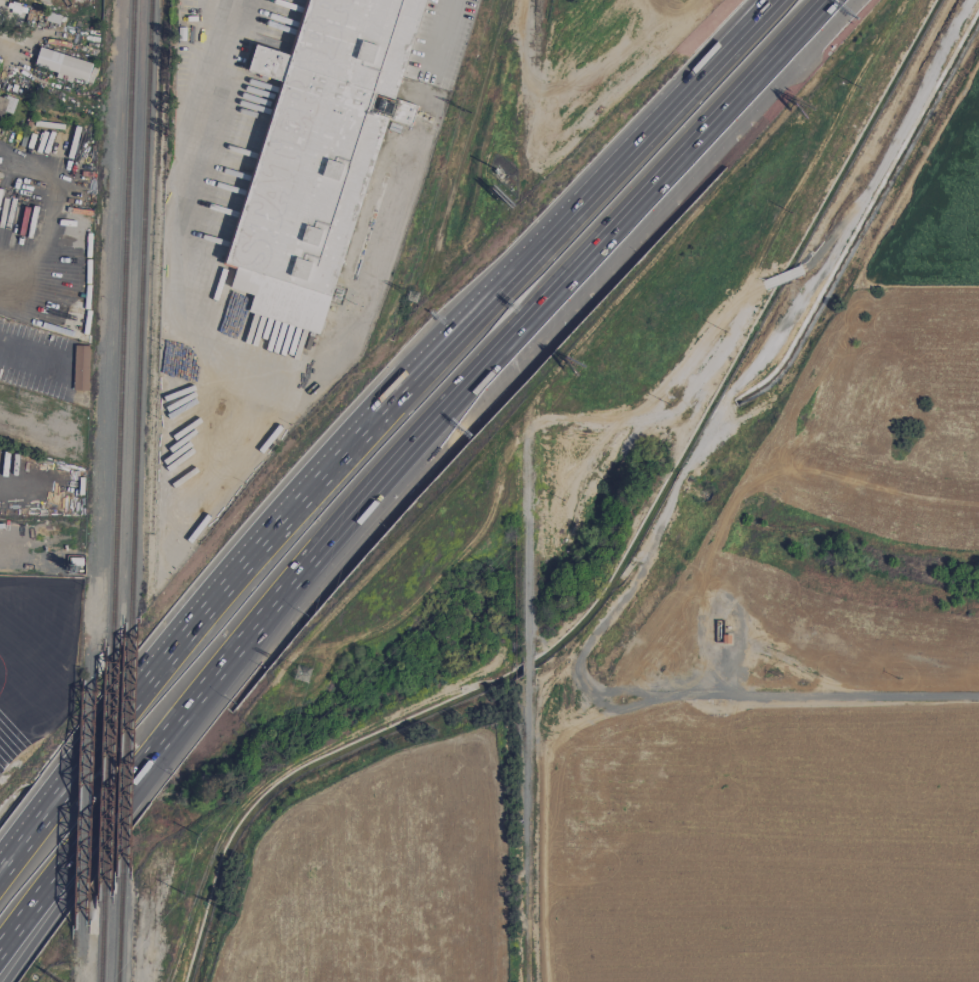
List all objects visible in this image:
road: (442, 33)
building: (64, 65)
railway: (529, 95)
building: (5, 105)
building: (319, 153)
road: (615, 162)
railway: (140, 310)
railway: (122, 333)
road: (206, 343)
building: (80, 368)
road: (456, 395)
road: (222, 590)
railway: (39, 699)
railway: (126, 749)
railway: (108, 785)
road: (54, 877)
road: (499, 883)
road: (62, 897)
railway: (118, 929)
railway: (103, 942)

